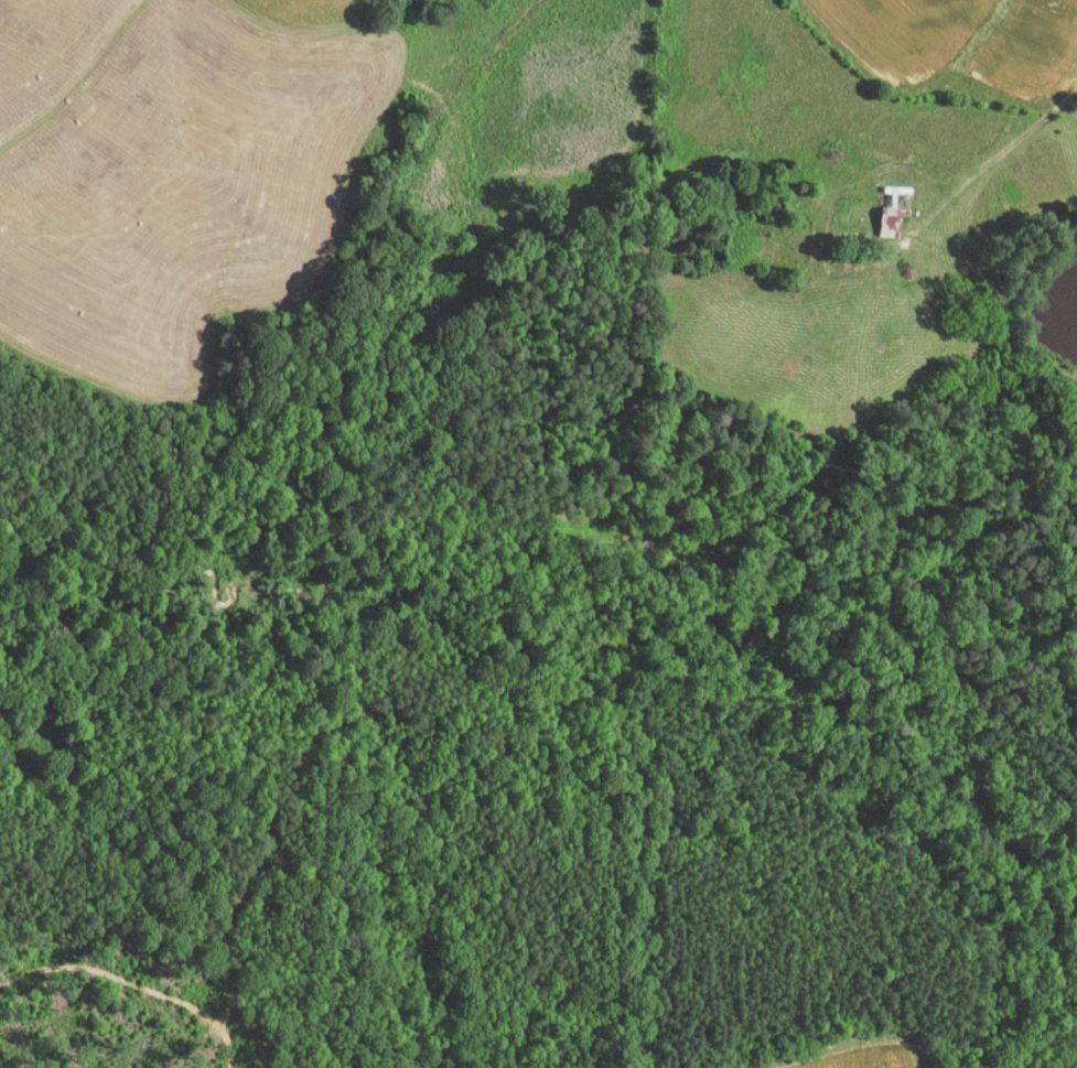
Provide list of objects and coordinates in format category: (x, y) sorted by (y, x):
road: (1010, 149)
building: (880, 208)

